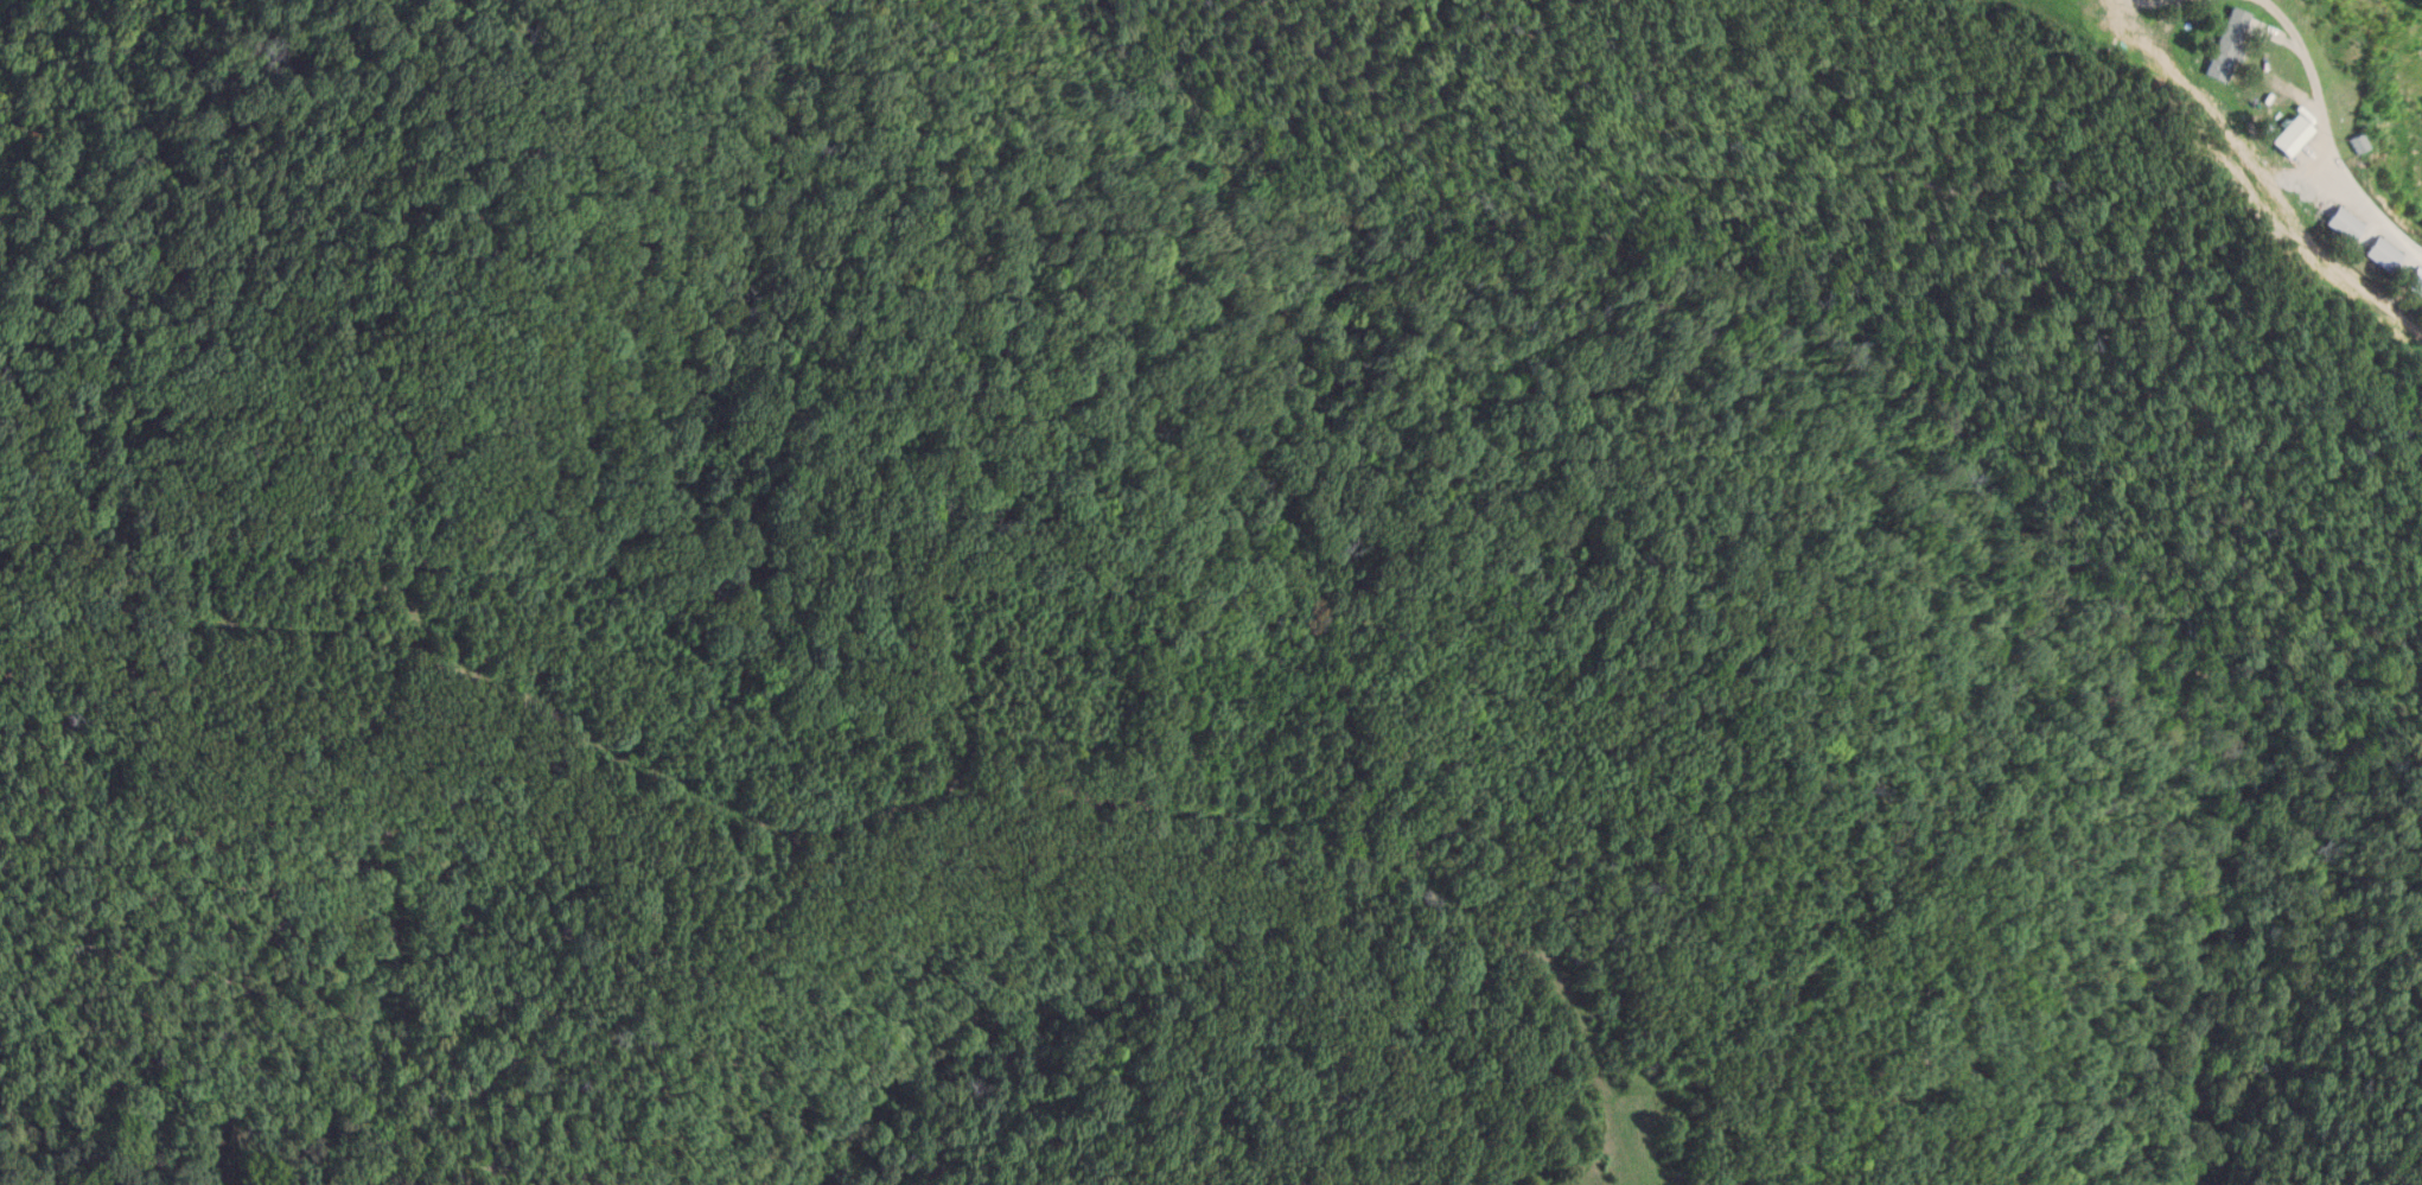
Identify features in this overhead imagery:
building: (2229, 43)
building: (2294, 134)
road: (2346, 158)
building: (2344, 223)
building: (2383, 253)
building: (2415, 281)

